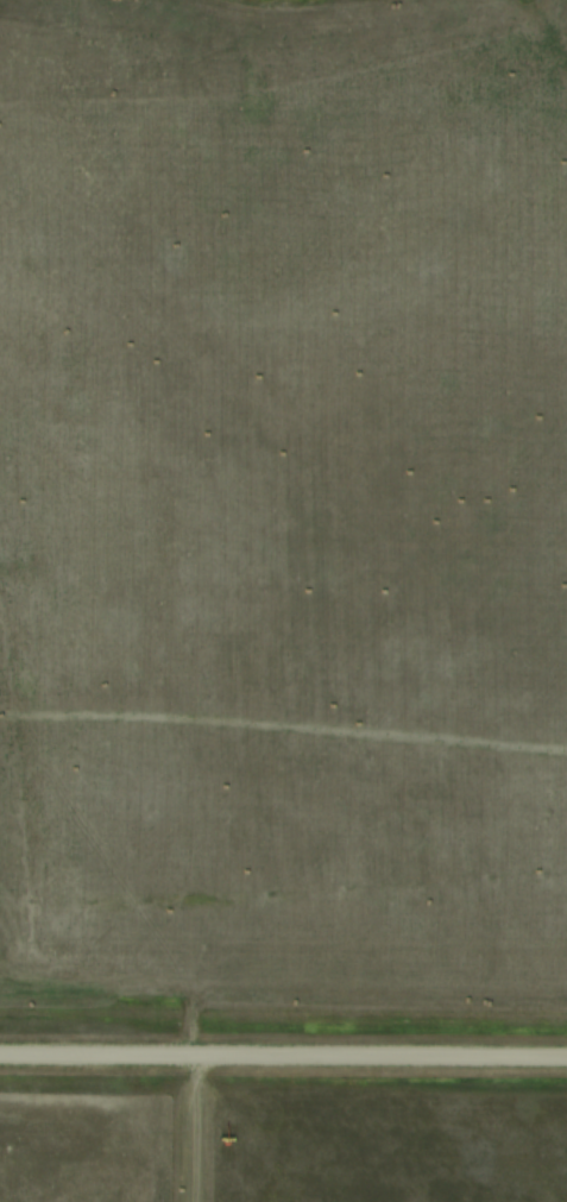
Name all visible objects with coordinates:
road: (283, 1056)

